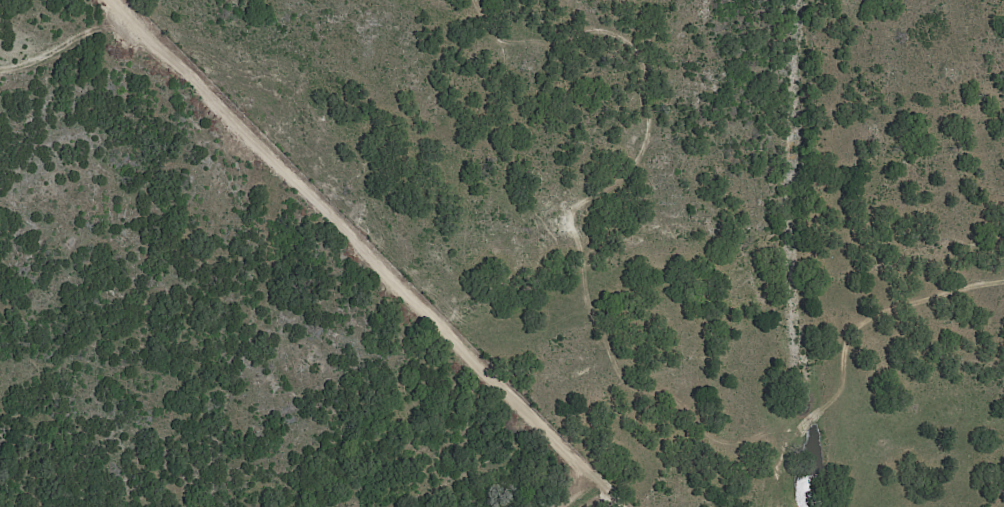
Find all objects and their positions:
road: (839, 334)

